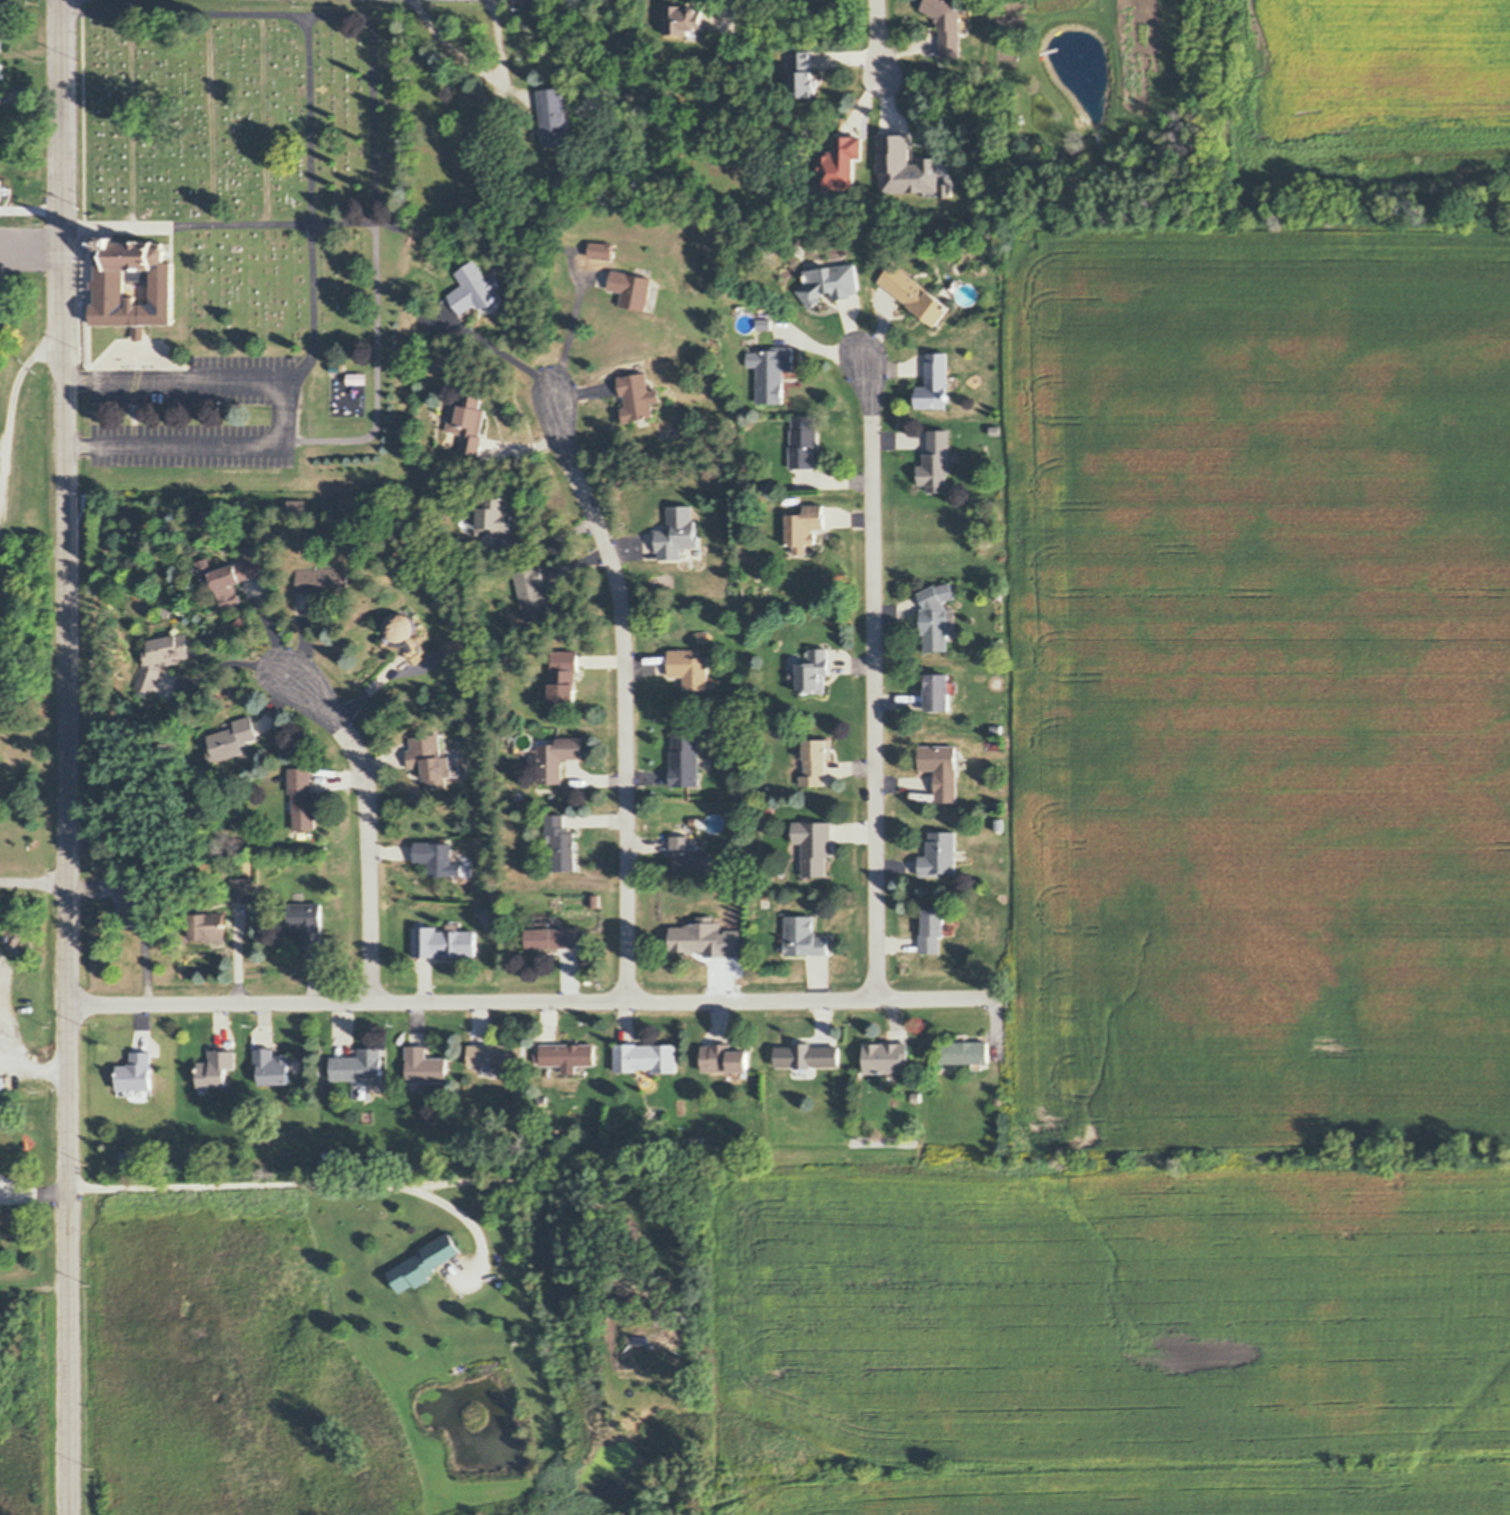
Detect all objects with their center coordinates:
road: (727, 13)
building: (683, 19)
building: (966, 19)
building: (948, 24)
building: (1, 35)
building: (694, 35)
road: (880, 38)
building: (748, 65)
building: (803, 74)
building: (0, 79)
building: (554, 116)
park: (253, 161)
building: (843, 163)
building: (907, 168)
building: (1, 190)
building: (820, 190)
building: (948, 190)
road: (31, 201)
building: (401, 216)
road: (270, 223)
building: (601, 248)
road: (31, 249)
building: (830, 282)
building: (109, 285)
building: (632, 288)
building: (475, 290)
building: (916, 294)
building: (1, 297)
building: (755, 318)
building: (746, 324)
building: (765, 324)
road: (561, 335)
road: (504, 352)
building: (773, 371)
building: (358, 378)
building: (935, 381)
building: (638, 396)
road: (295, 410)
building: (468, 421)
building: (806, 440)
building: (955, 456)
building: (937, 461)
building: (297, 511)
building: (495, 514)
building: (752, 523)
building: (806, 528)
building: (677, 533)
building: (688, 554)
building: (771, 557)
building: (233, 576)
building: (210, 579)
building: (322, 580)
building: (535, 593)
building: (997, 594)
building: (167, 611)
building: (937, 615)
road: (271, 630)
building: (405, 635)
building: (704, 636)
building: (161, 658)
road: (226, 665)
building: (794, 667)
building: (689, 669)
building: (814, 672)
building: (563, 676)
road: (875, 678)
building: (710, 681)
building: (941, 691)
road: (626, 693)
building: (998, 729)
building: (233, 739)
road: (66, 757)
building: (556, 758)
building: (429, 759)
building: (685, 759)
building: (817, 760)
building: (943, 768)
building: (518, 795)
building: (303, 798)
building: (1000, 805)
building: (714, 822)
road: (368, 826)
building: (561, 843)
building: (815, 845)
building: (941, 854)
building: (690, 855)
building: (440, 859)
building: (782, 874)
road: (33, 876)
building: (240, 889)
building: (297, 897)
building: (135, 898)
building: (595, 900)
building: (307, 921)
building: (208, 926)
building: (934, 930)
building: (554, 936)
building: (700, 937)
building: (806, 937)
building: (444, 942)
road: (538, 1001)
building: (965, 1052)
building: (497, 1054)
building: (568, 1054)
building: (808, 1055)
building: (647, 1057)
building: (887, 1057)
building: (727, 1058)
road: (34, 1064)
building: (364, 1064)
building: (980, 1065)
building: (272, 1066)
building: (425, 1066)
building: (950, 1067)
building: (218, 1068)
building: (497, 1070)
building: (570, 1070)
building: (804, 1071)
building: (138, 1072)
building: (728, 1075)
building: (737, 1075)
building: (893, 1075)
building: (647, 1078)
building: (737, 1083)
building: (378, 1084)
building: (414, 1086)
building: (363, 1088)
building: (205, 1089)
building: (122, 1090)
building: (916, 1097)
building: (998, 1099)
building: (237, 1117)
building: (366, 1117)
building: (994, 1139)
building: (240, 1151)
building: (127, 1156)
road: (383, 1176)
building: (428, 1263)

